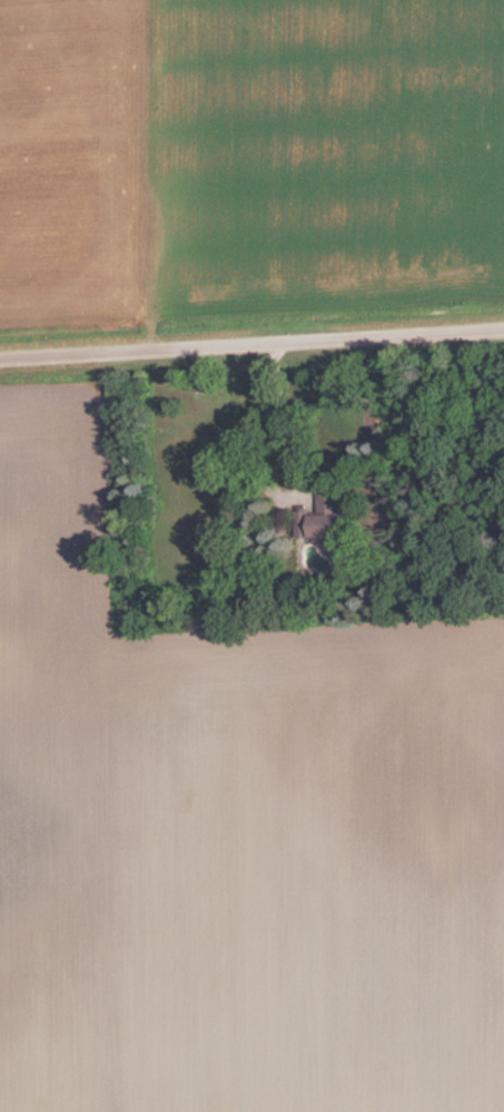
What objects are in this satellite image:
road: (251, 337)
building: (323, 516)

